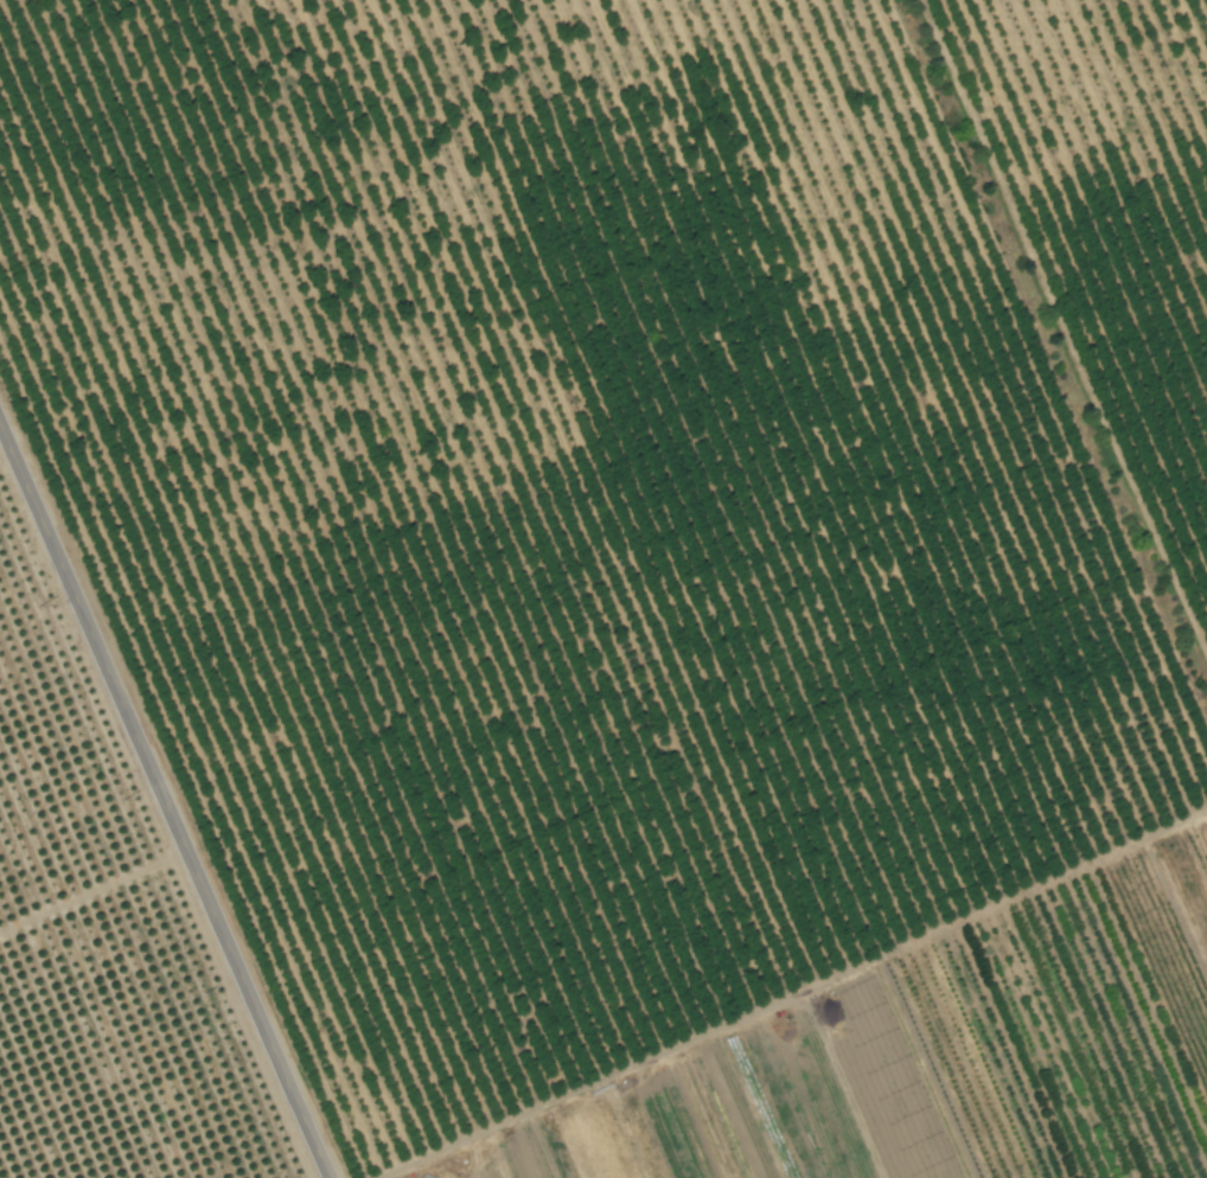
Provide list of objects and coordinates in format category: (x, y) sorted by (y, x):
road: (161, 809)
road: (792, 993)

